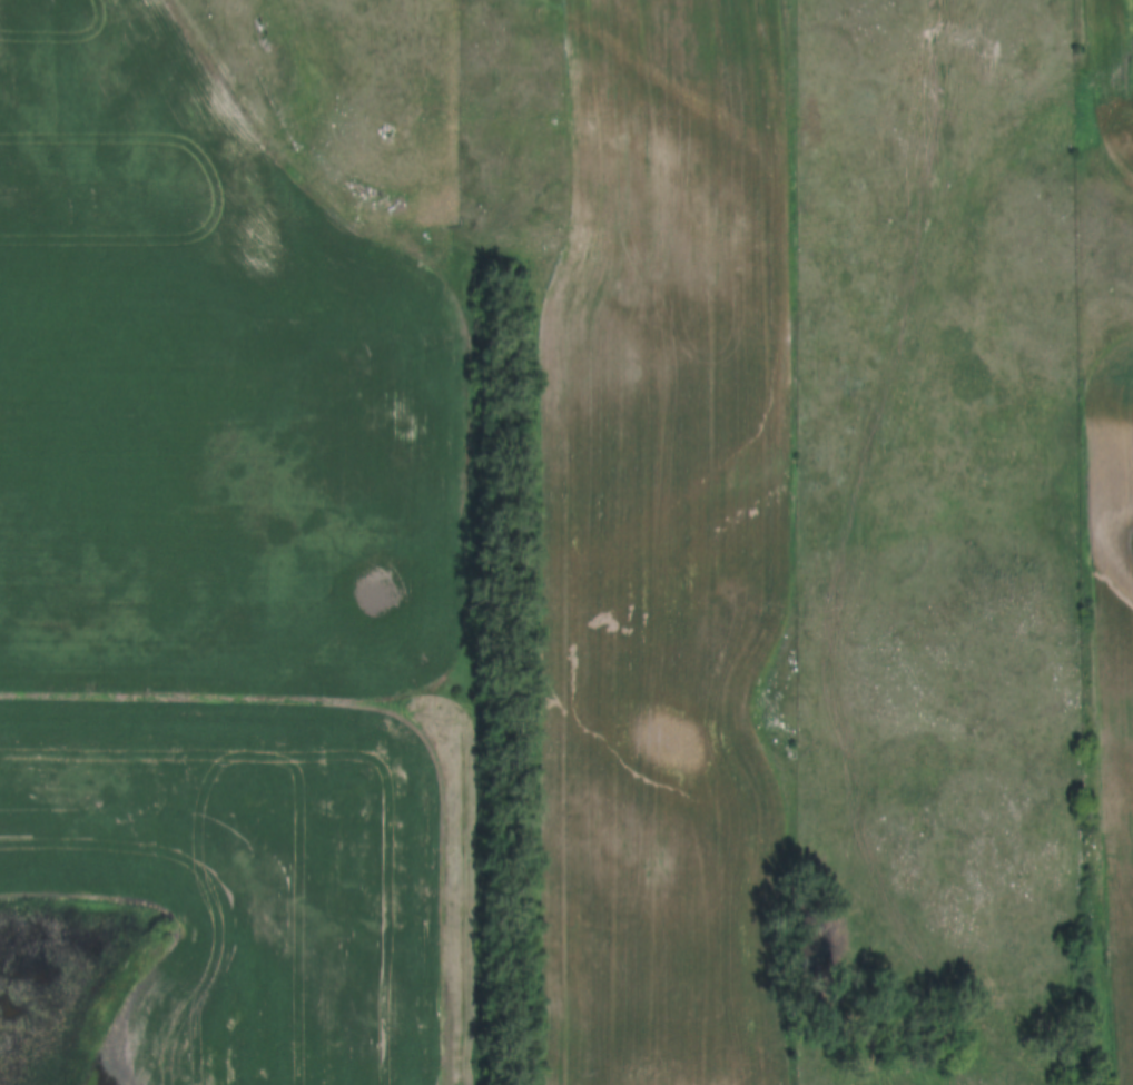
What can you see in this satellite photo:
crop: (203, 375)
road: (451, 907)

